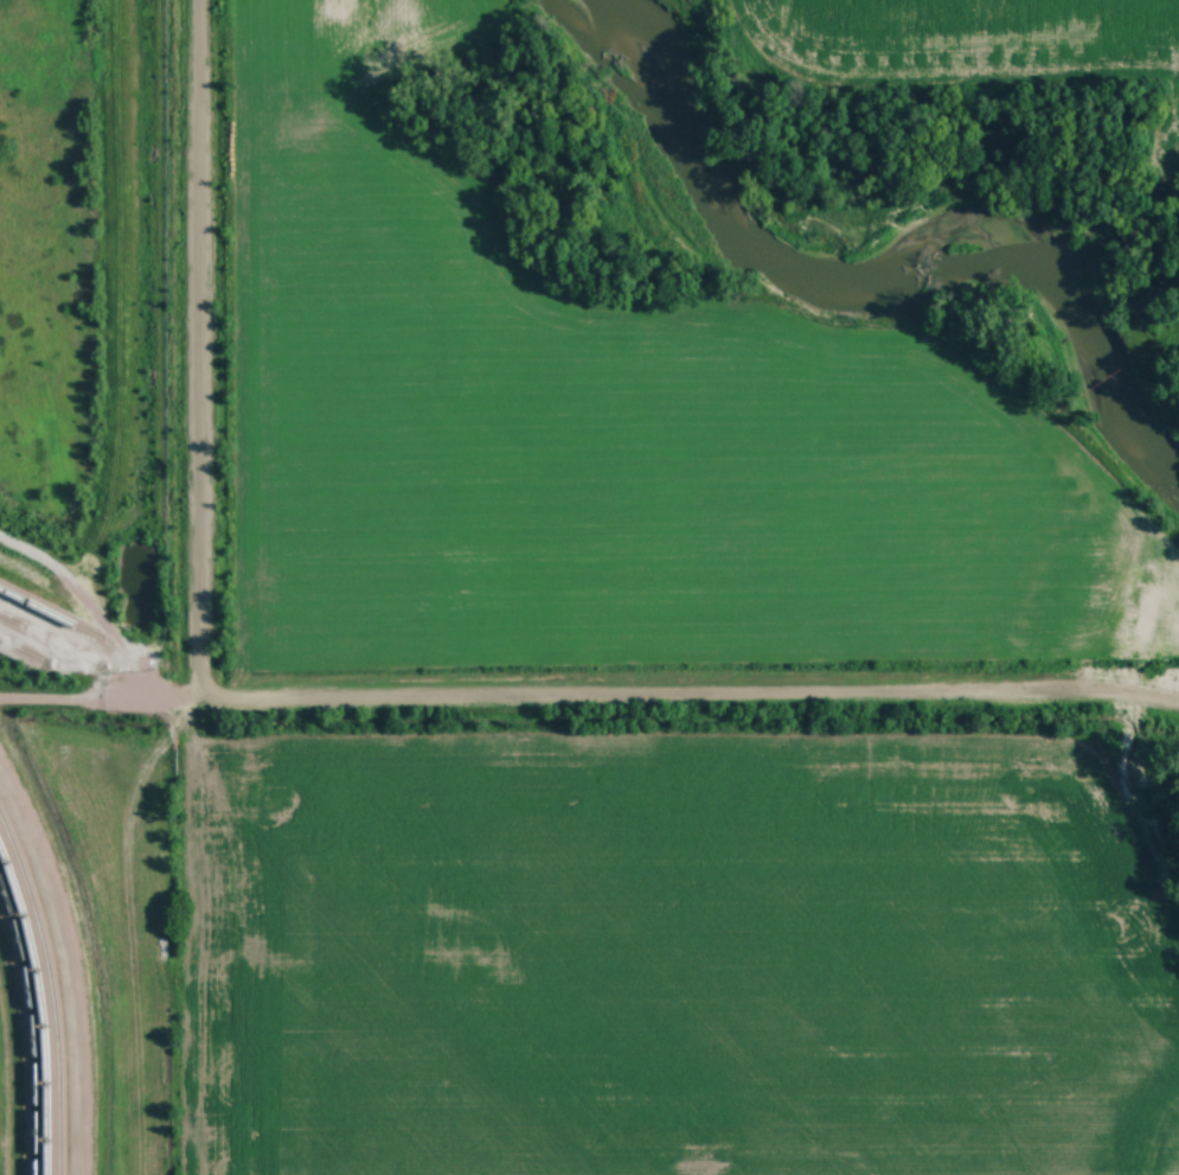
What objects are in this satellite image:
river: (896, 257)
road: (589, 696)

